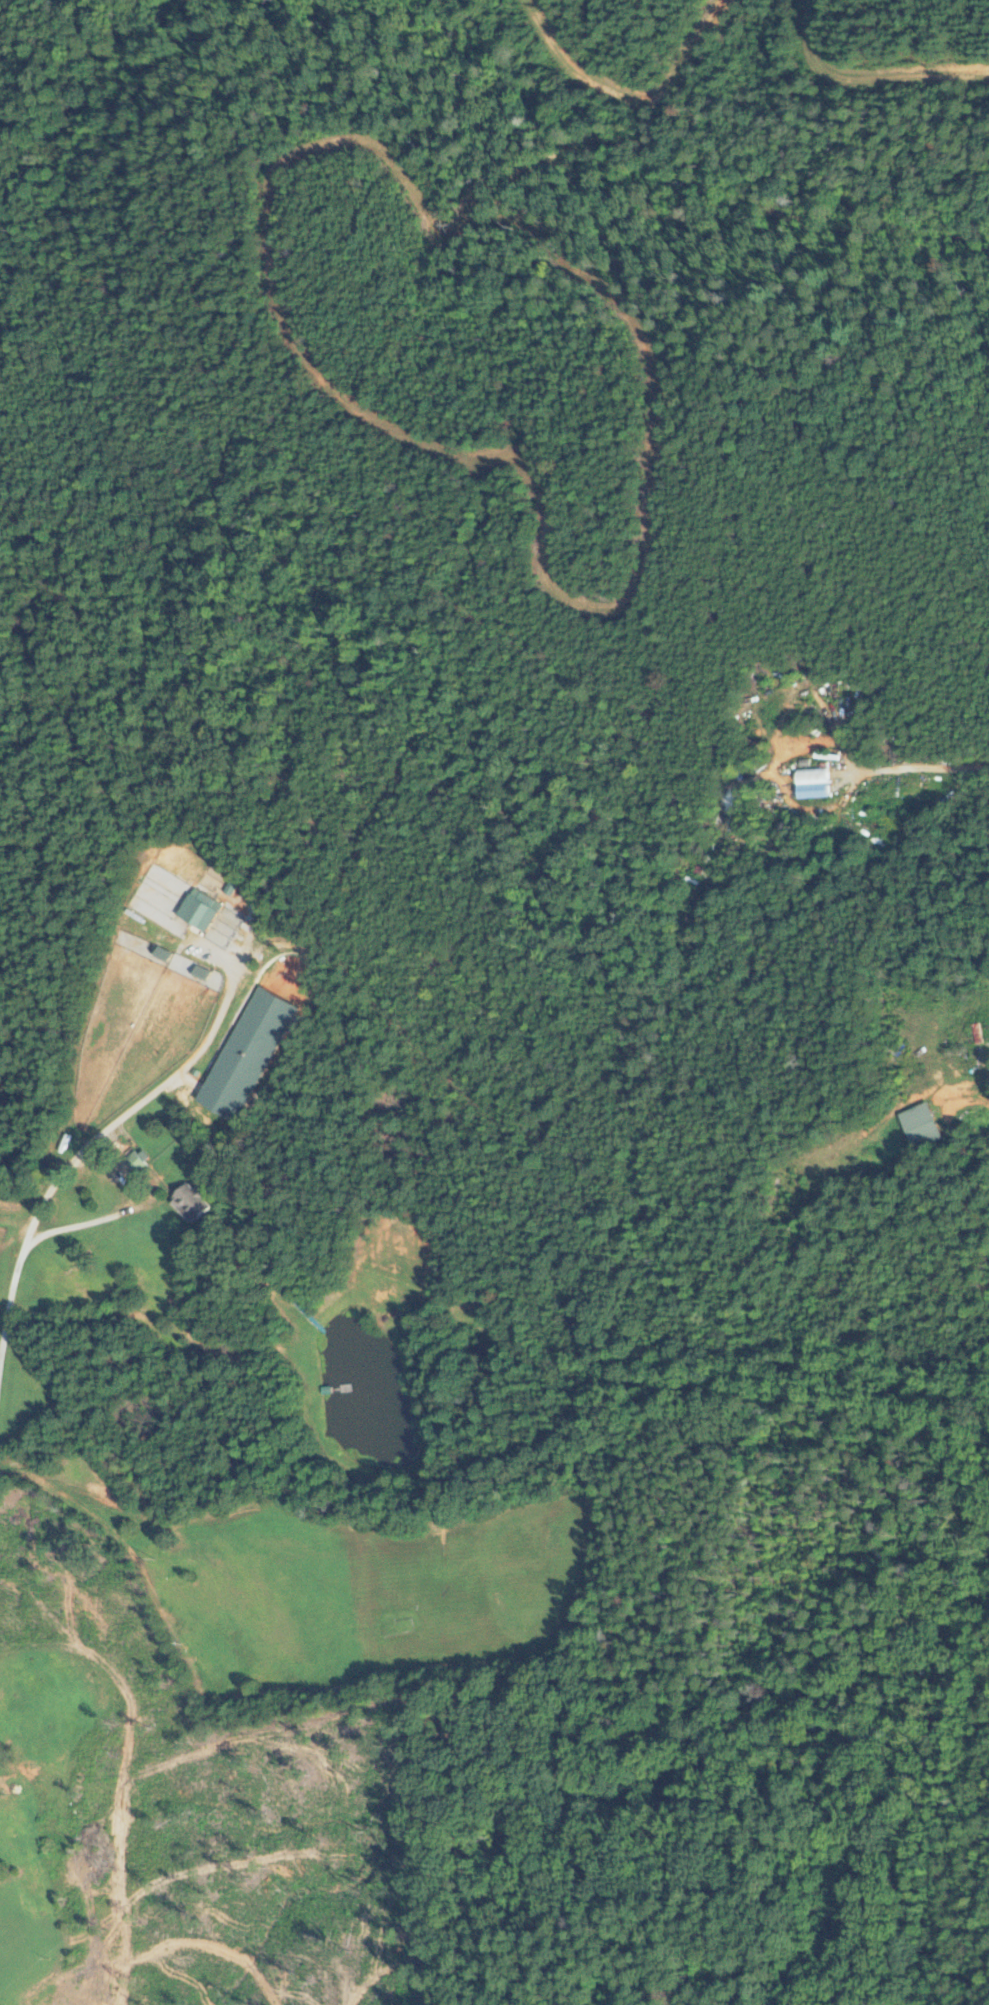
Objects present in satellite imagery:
road: (917, 769)
building: (812, 776)
building: (199, 911)
building: (921, 1126)
road: (94, 1136)
building: (135, 1162)
building: (191, 1202)
road: (84, 1216)
building: (37, 1872)

